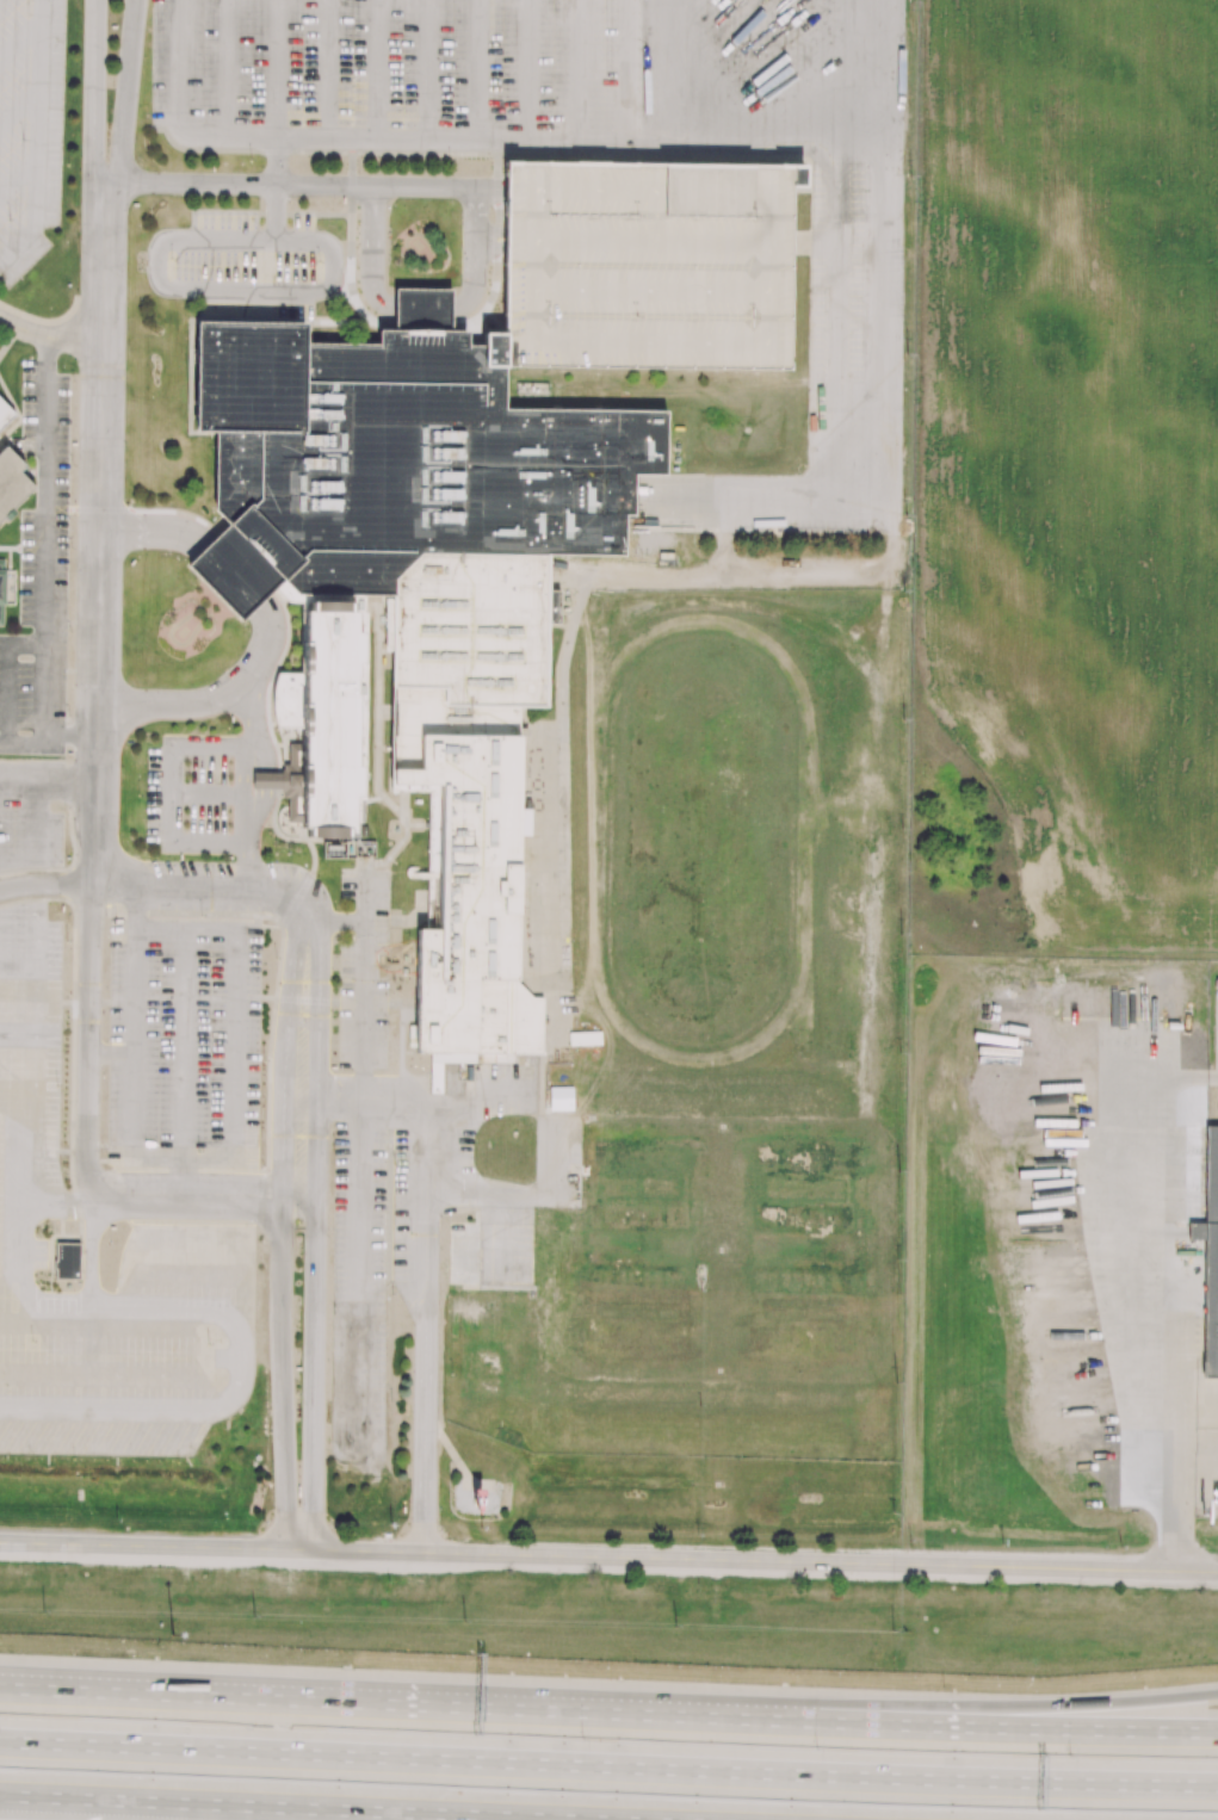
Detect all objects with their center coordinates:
road: (20, 37)
parking lot: (536, 66)
road: (876, 70)
road: (277, 93)
parking lot: (30, 130)
road: (95, 132)
road: (124, 132)
road: (38, 136)
road: (828, 141)
road: (235, 186)
road: (423, 188)
road: (490, 190)
road: (276, 213)
road: (474, 221)
road: (489, 234)
road: (489, 252)
parking lot: (249, 264)
building: (651, 267)
parking lot: (651, 267)
road: (216, 289)
building: (422, 309)
road: (390, 310)
road: (50, 339)
road: (47, 349)
building: (5, 413)
building: (11, 482)
road: (44, 546)
building: (668, 557)
road: (217, 561)
parking lot: (41, 562)
building: (234, 572)
building: (429, 586)
building: (6, 589)
building: (328, 600)
building: (554, 607)
road: (706, 623)
road: (7, 676)
road: (99, 680)
road: (254, 688)
road: (231, 689)
road: (225, 705)
road: (148, 706)
building: (322, 726)
road: (253, 731)
road: (44, 733)
building: (273, 782)
road: (242, 785)
road: (267, 786)
road: (174, 792)
parking lot: (188, 793)
road: (208, 793)
parking lot: (31, 813)
park: (706, 842)
road: (806, 843)
road: (95, 850)
building: (333, 850)
road: (249, 859)
road: (45, 886)
road: (129, 887)
road: (365, 900)
road: (137, 910)
road: (338, 926)
parking lot: (365, 971)
road: (364, 999)
road: (608, 1005)
road: (89, 1042)
parking lot: (185, 1045)
road: (186, 1046)
road: (112, 1054)
road: (36, 1071)
road: (361, 1088)
building: (561, 1098)
road: (402, 1102)
road: (233, 1158)
parking lot: (30, 1168)
road: (185, 1180)
road: (483, 1186)
road: (208, 1201)
road: (482, 1206)
road: (283, 1236)
road: (316, 1238)
road: (23, 1240)
building: (1210, 1256)
building: (68, 1262)
road: (186, 1275)
road: (359, 1275)
road: (243, 1281)
parking lot: (366, 1283)
road: (21, 1292)
road: (91, 1304)
road: (1155, 1317)
road: (45, 1325)
road: (178, 1327)
road: (45, 1372)
road: (166, 1374)
road: (427, 1379)
road: (44, 1412)
building: (487, 1504)
road: (608, 1558)
street lamp: (172, 1634)
street lamp: (944, 1686)
road: (316, 1701)
road: (926, 1703)
road: (926, 1722)
street lamp: (581, 1739)
street lamp: (816, 1748)
street lamp: (1069, 1756)
road: (608, 1770)
road: (135, 1799)
road: (451, 1813)

